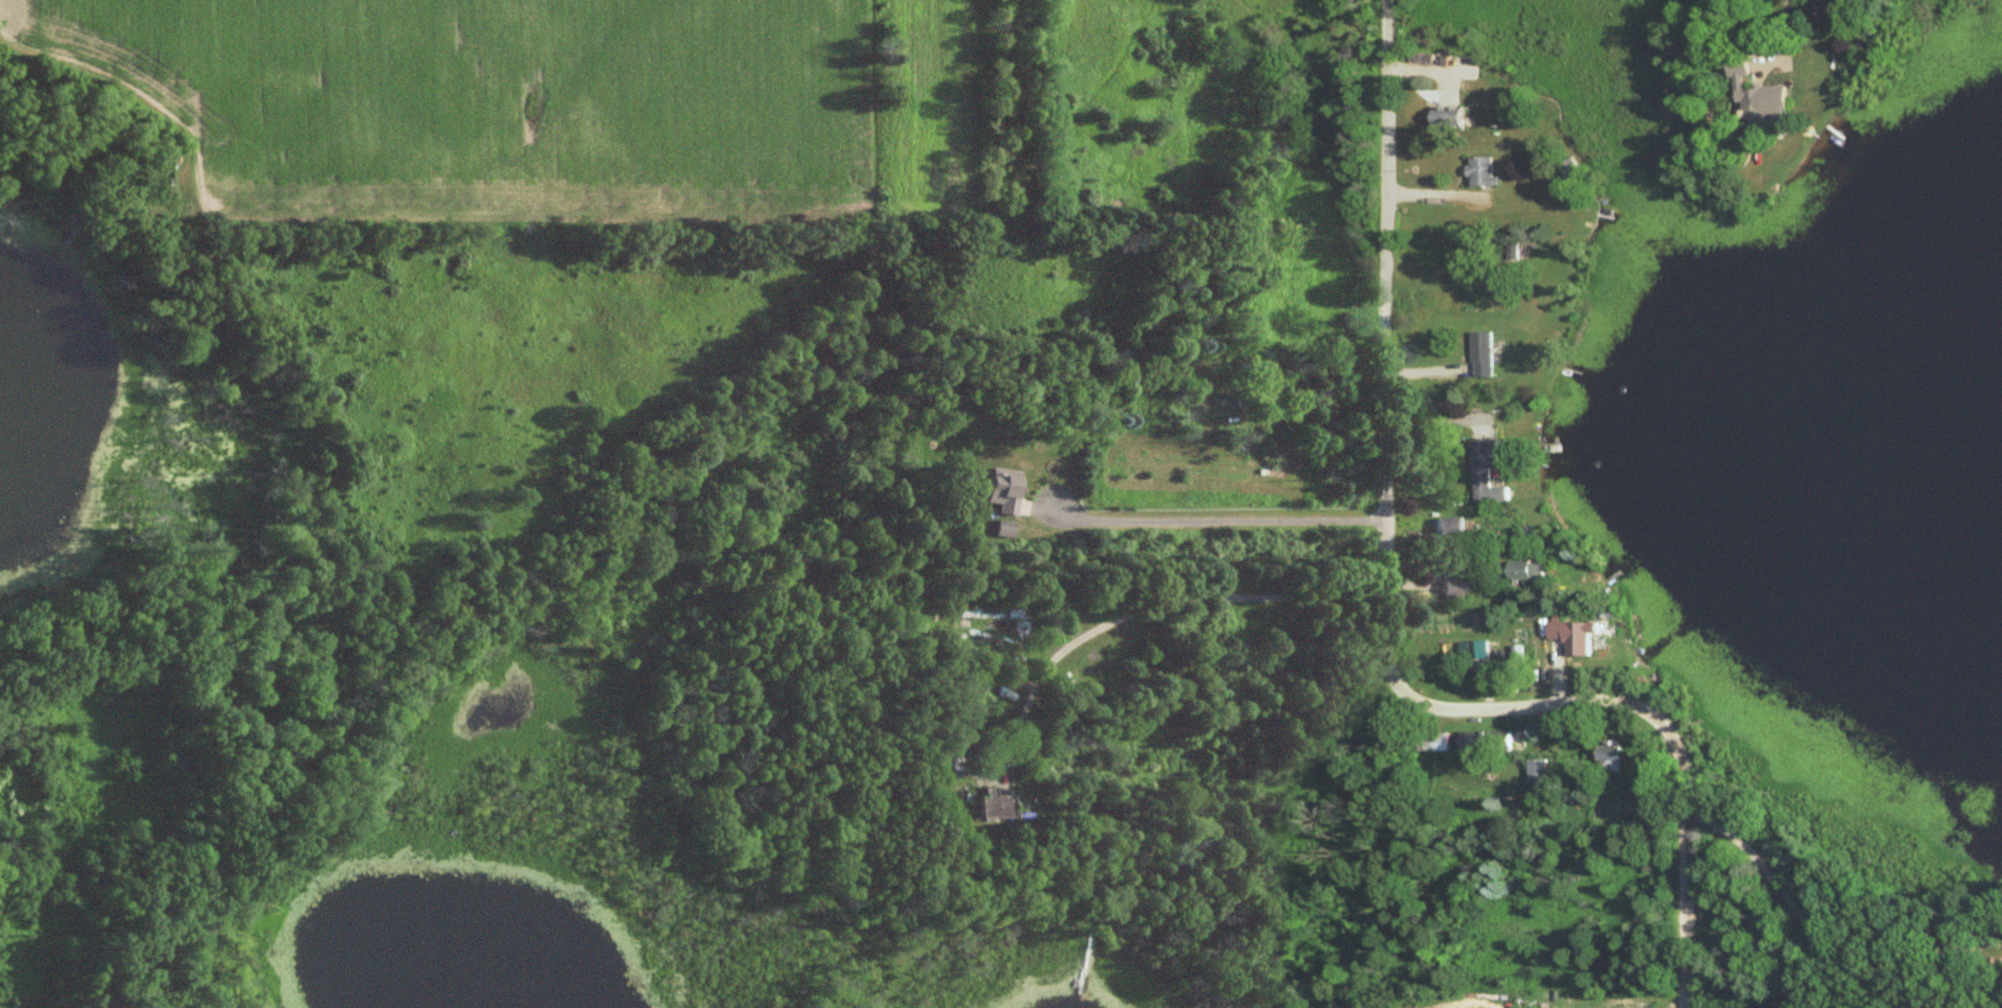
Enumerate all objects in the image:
road: (1786, 16)
building: (1758, 99)
building: (1449, 119)
building: (1572, 167)
building: (1483, 173)
building: (1269, 338)
building: (1484, 355)
building: (1208, 401)
road: (1439, 420)
building: (1487, 473)
building: (1001, 491)
road: (1217, 522)
building: (1003, 530)
building: (1449, 531)
building: (1527, 571)
building: (1452, 589)
road: (552, 599)
road: (1151, 604)
road: (1386, 632)
building: (1568, 632)
building: (1513, 650)
building: (1479, 653)
building: (1436, 743)
building: (1485, 744)
building: (173, 758)
building: (1612, 760)
building: (1538, 772)
building: (987, 806)
road: (1823, 919)
road: (1634, 999)

